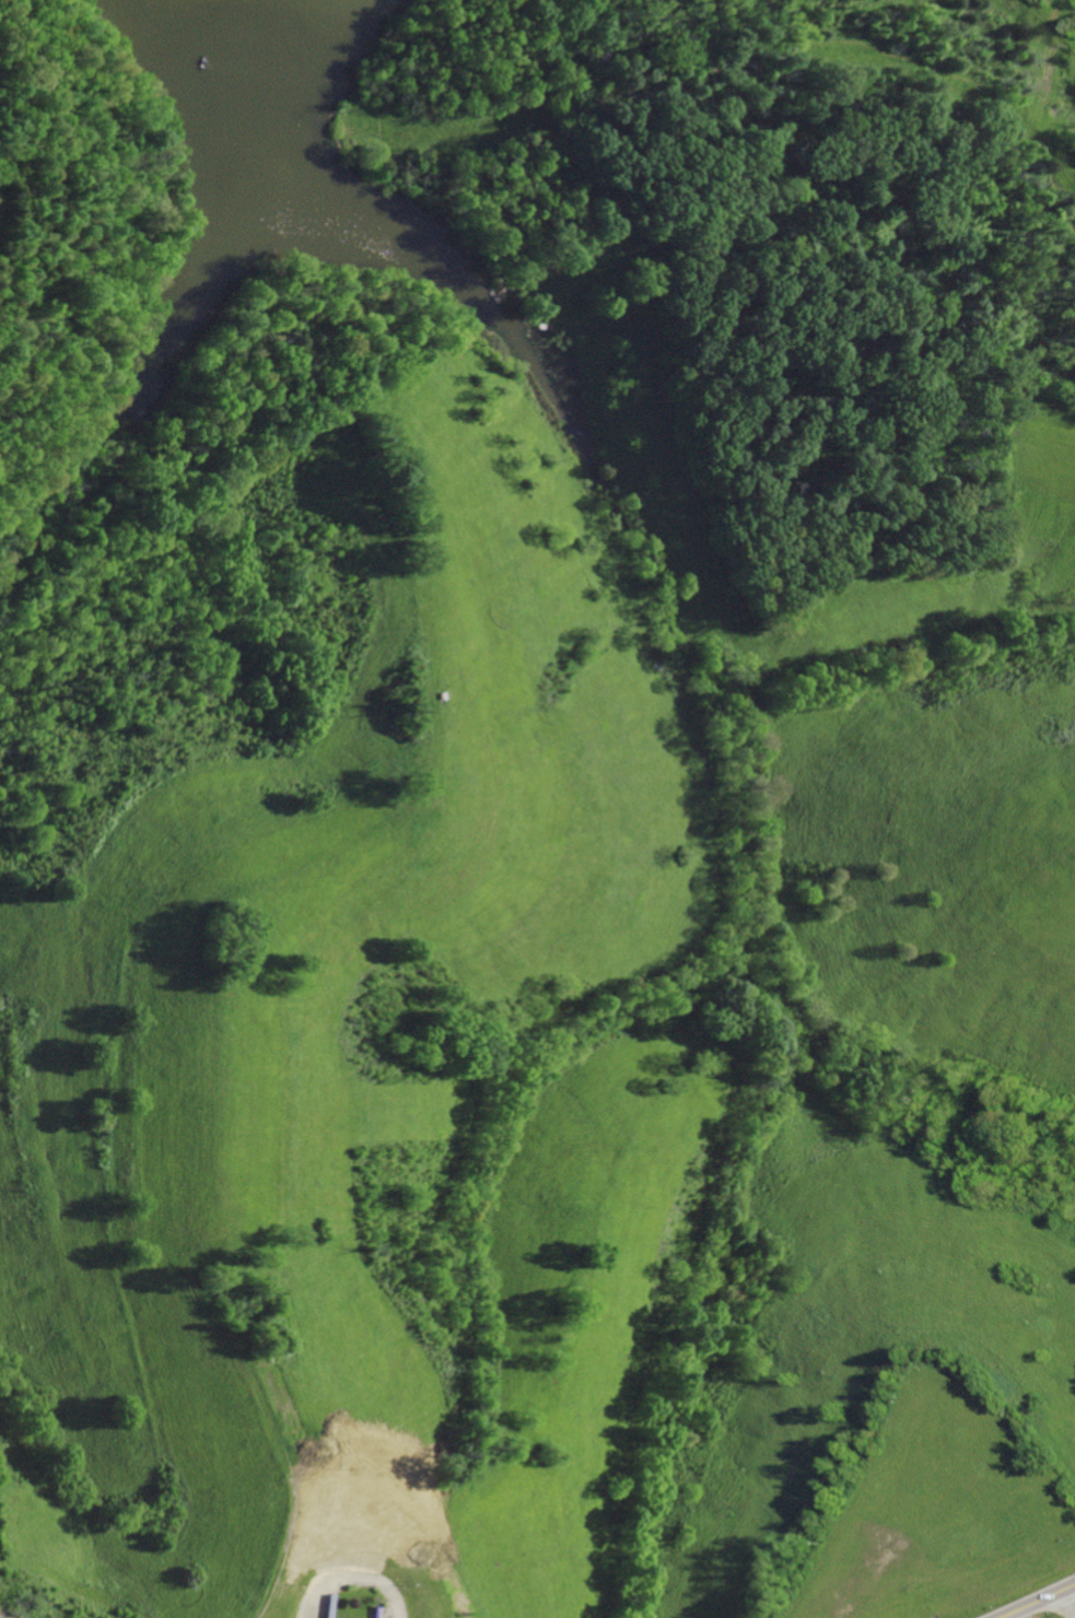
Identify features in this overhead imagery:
road: (351, 1576)
road: (1039, 1602)

